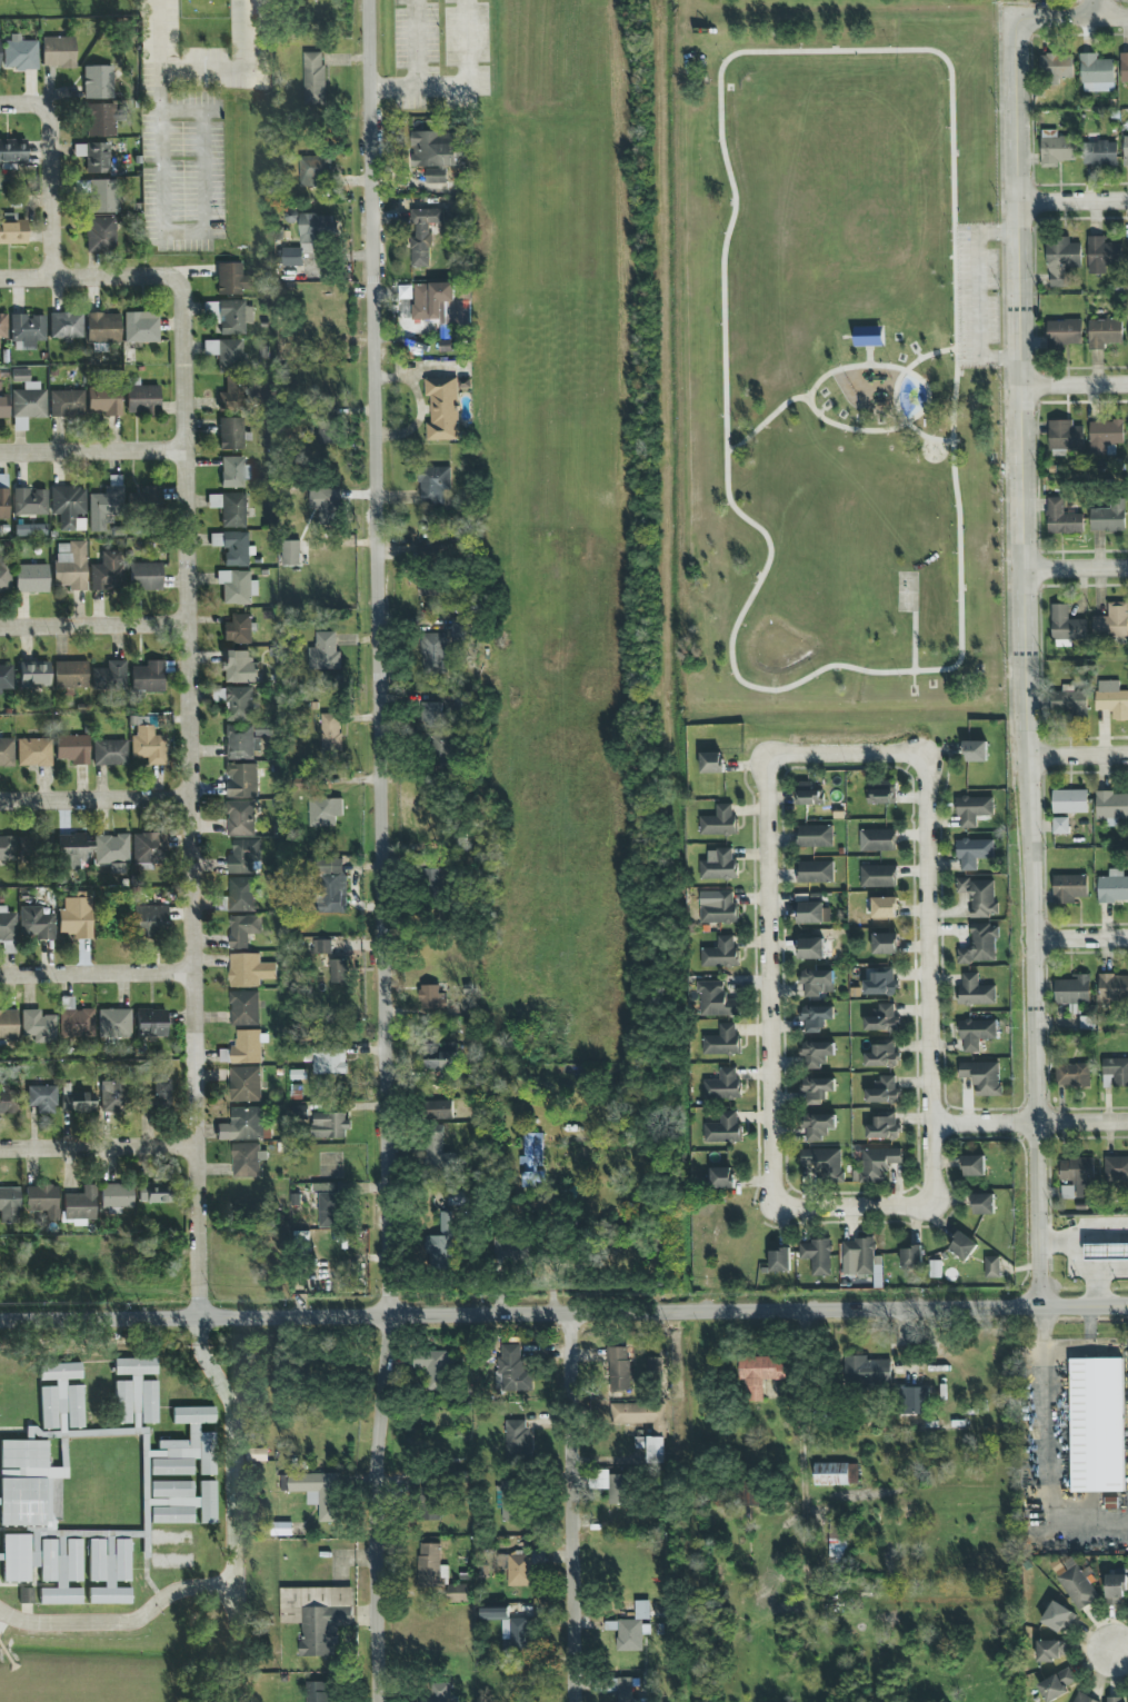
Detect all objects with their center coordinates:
road: (1098, 7)
road: (1067, 14)
road: (246, 36)
road: (743, 50)
building: (0, 52)
building: (59, 52)
building: (21, 56)
building: (1124, 67)
road: (415, 68)
building: (1055, 68)
road: (465, 69)
road: (202, 71)
building: (1096, 73)
building: (313, 78)
building: (98, 82)
road: (159, 118)
building: (101, 120)
building: (1057, 148)
building: (1126, 149)
building: (1100, 152)
building: (12, 153)
building: (435, 153)
building: (94, 157)
road: (53, 170)
building: (313, 171)
road: (203, 173)
road: (1074, 199)
building: (12, 233)
building: (100, 233)
building: (422, 233)
road: (965, 235)
building: (308, 237)
building: (1101, 253)
building: (1060, 259)
road: (73, 278)
building: (232, 279)
road: (977, 292)
parking lot: (975, 295)
building: (430, 298)
building: (462, 311)
building: (233, 317)
building: (3, 326)
building: (66, 326)
building: (103, 328)
building: (141, 328)
building: (28, 329)
building: (1064, 331)
building: (1104, 332)
building: (867, 335)
building: (226, 354)
road: (868, 355)
park: (841, 372)
road: (1074, 385)
road: (895, 392)
building: (232, 396)
building: (142, 398)
building: (103, 402)
building: (27, 404)
building: (67, 404)
building: (3, 406)
building: (441, 408)
road: (766, 420)
road: (852, 428)
building: (327, 431)
building: (230, 434)
building: (1065, 435)
building: (1105, 437)
road: (94, 451)
building: (233, 471)
building: (433, 484)
building: (150, 494)
building: (3, 497)
building: (29, 502)
building: (106, 504)
building: (326, 504)
building: (69, 508)
building: (230, 509)
building: (1062, 517)
building: (1108, 517)
building: (30, 529)
building: (232, 547)
building: (427, 548)
building: (290, 551)
building: (70, 565)
road: (1076, 568)
building: (107, 573)
building: (4, 575)
building: (144, 576)
building: (31, 578)
building: (237, 586)
building: (428, 589)
park: (907, 590)
building: (1111, 620)
road: (96, 625)
building: (1065, 626)
building: (238, 628)
building: (460, 629)
road: (914, 647)
building: (323, 650)
building: (433, 653)
building: (239, 667)
road: (1026, 668)
building: (34, 675)
building: (70, 675)
building: (110, 676)
building: (6, 677)
building: (148, 677)
building: (1111, 698)
building: (238, 704)
building: (1070, 705)
building: (431, 714)
building: (330, 735)
building: (240, 741)
building: (148, 745)
building: (72, 749)
building: (442, 749)
building: (975, 750)
building: (34, 752)
building: (7, 753)
building: (110, 753)
road: (1078, 754)
road: (845, 755)
building: (711, 762)
building: (241, 779)
road: (192, 782)
building: (880, 792)
building: (807, 793)
road: (97, 799)
building: (1069, 800)
building: (1111, 806)
building: (972, 809)
building: (325, 810)
building: (240, 817)
building: (718, 820)
building: (1059, 825)
building: (815, 835)
building: (876, 839)
building: (8, 848)
building: (149, 848)
building: (72, 850)
building: (112, 850)
road: (385, 850)
building: (972, 852)
building: (243, 854)
building: (718, 864)
building: (815, 872)
building: (877, 875)
building: (437, 878)
building: (332, 886)
building: (1068, 887)
building: (1112, 887)
building: (240, 894)
building: (978, 895)
building: (717, 906)
building: (884, 907)
building: (813, 913)
building: (76, 917)
building: (151, 920)
building: (36, 924)
building: (8, 925)
building: (241, 929)
road: (1081, 937)
road: (928, 939)
building: (884, 943)
building: (979, 944)
building: (321, 946)
building: (813, 947)
building: (720, 952)
building: (248, 969)
building: (338, 969)
road: (98, 975)
building: (815, 982)
building: (880, 982)
building: (1114, 987)
building: (975, 989)
building: (1072, 989)
building: (430, 996)
building: (715, 999)
building: (243, 1007)
building: (815, 1017)
building: (881, 1018)
building: (74, 1019)
building: (114, 1023)
building: (150, 1023)
building: (9, 1024)
building: (39, 1026)
building: (975, 1033)
building: (721, 1039)
building: (242, 1048)
building: (816, 1052)
building: (881, 1055)
building: (440, 1056)
building: (329, 1059)
building: (1116, 1069)
building: (1072, 1074)
building: (982, 1077)
building: (244, 1084)
building: (722, 1084)
building: (817, 1088)
building: (882, 1091)
building: (157, 1097)
building: (42, 1098)
building: (116, 1098)
road: (770, 1099)
building: (9, 1102)
building: (77, 1102)
building: (440, 1108)
road: (1084, 1123)
road: (984, 1124)
building: (329, 1125)
building: (817, 1125)
building: (882, 1126)
building: (722, 1127)
road: (99, 1146)
building: (531, 1148)
building: (437, 1151)
building: (821, 1158)
building: (246, 1159)
building: (876, 1164)
building: (972, 1165)
building: (1115, 1168)
building: (721, 1176)
building: (1076, 1177)
building: (153, 1192)
building: (116, 1197)
building: (42, 1203)
building: (982, 1203)
building: (9, 1205)
building: (80, 1205)
building: (328, 1210)
road: (1097, 1228)
building: (440, 1244)
building: (962, 1245)
building: (509, 1248)
building: (1106, 1252)
building: (816, 1255)
building: (857, 1256)
building: (911, 1257)
building: (779, 1260)
road: (1078, 1263)
building: (991, 1266)
road: (1092, 1288)
road: (563, 1313)
road: (1085, 1350)
road: (799, 1358)
building: (655, 1364)
building: (618, 1367)
building: (435, 1368)
building: (512, 1368)
building: (866, 1371)
building: (760, 1373)
building: (141, 1385)
building: (61, 1395)
building: (909, 1396)
building: (122, 1402)
building: (638, 1414)
building: (1096, 1424)
building: (517, 1440)
building: (186, 1443)
road: (232, 1447)
building: (651, 1447)
road: (1047, 1452)
building: (257, 1454)
building: (172, 1466)
building: (835, 1473)
building: (28, 1483)
building: (611, 1485)
building: (316, 1491)
building: (190, 1496)
building: (510, 1500)
road: (578, 1506)
building: (172, 1514)
building: (281, 1529)
building: (837, 1551)
building: (28, 1559)
building: (521, 1563)
building: (109, 1572)
building: (436, 1572)
building: (67, 1579)
building: (1076, 1585)
building: (1115, 1589)
building: (27, 1596)
building: (316, 1615)
building: (1057, 1616)
road: (121, 1623)
building: (509, 1628)
building: (632, 1628)
building: (1049, 1650)
road: (1115, 1656)
building: (1057, 1684)
building: (620, 1689)
building: (318, 1691)
building: (433, 1692)
building: (1082, 1698)
building: (1114, 1699)

